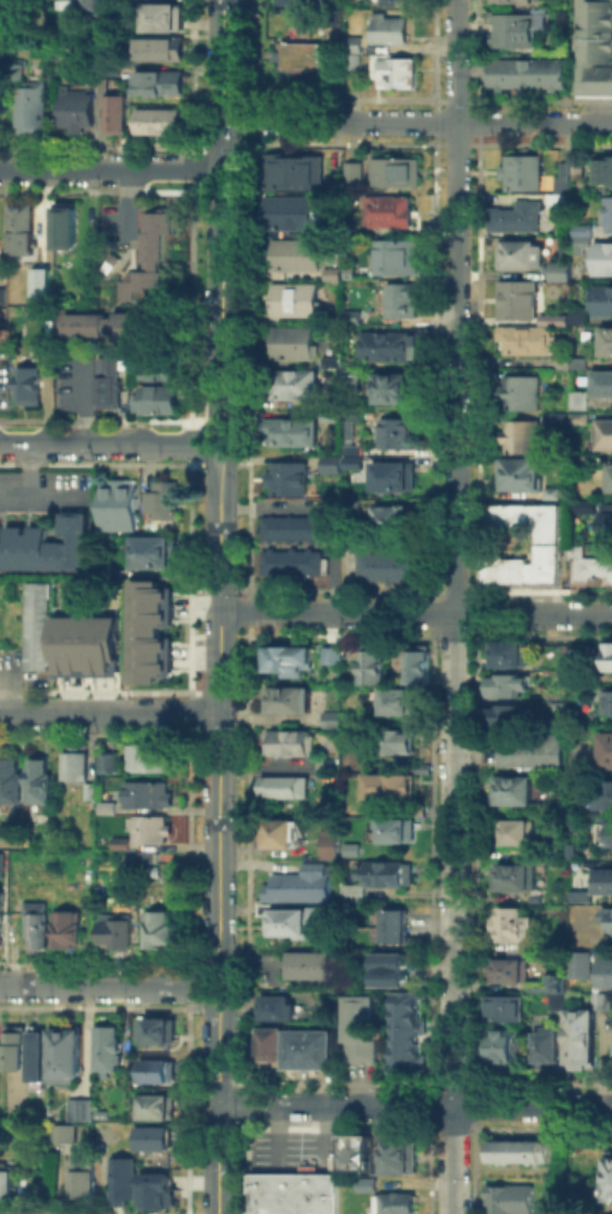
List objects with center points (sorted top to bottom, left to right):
building: (519, 2)
building: (296, 4)
building: (71, 5)
building: (400, 6)
building: (94, 8)
building: (340, 19)
building: (166, 23)
building: (518, 25)
building: (391, 35)
building: (595, 49)
building: (162, 54)
building: (355, 58)
building: (308, 61)
building: (530, 75)
building: (398, 76)
building: (162, 90)
building: (79, 113)
building: (2, 115)
building: (32, 115)
building: (118, 117)
road: (416, 120)
building: (161, 127)
building: (576, 166)
road: (109, 168)
building: (604, 168)
building: (293, 169)
building: (352, 169)
building: (394, 171)
building: (519, 171)
building: (562, 177)
building: (554, 196)
building: (387, 209)
building: (287, 210)
building: (608, 213)
road: (221, 214)
building: (512, 215)
building: (65, 224)
building: (22, 227)
building: (581, 228)
parking lot: (114, 231)
building: (580, 242)
building: (563, 246)
building: (295, 252)
building: (518, 252)
building: (396, 254)
building: (602, 256)
building: (151, 266)
building: (558, 269)
building: (349, 270)
building: (332, 273)
building: (41, 280)
building: (293, 298)
building: (398, 298)
building: (516, 298)
building: (601, 298)
building: (350, 315)
building: (577, 315)
building: (552, 317)
building: (107, 326)
building: (525, 337)
building: (606, 339)
building: (293, 340)
building: (386, 344)
building: (329, 359)
building: (560, 361)
building: (577, 361)
parking lot: (2, 365)
building: (153, 365)
building: (350, 373)
parking lot: (64, 379)
building: (106, 381)
building: (601, 381)
building: (293, 382)
building: (28, 383)
building: (392, 386)
building: (519, 391)
building: (153, 397)
road: (83, 398)
building: (577, 398)
building: (327, 415)
building: (350, 415)
building: (552, 416)
building: (577, 416)
building: (291, 430)
building: (347, 432)
building: (396, 432)
building: (601, 432)
building: (519, 434)
road: (103, 441)
road: (233, 442)
building: (350, 448)
building: (577, 459)
building: (351, 460)
building: (329, 462)
road: (28, 468)
building: (517, 472)
building: (391, 474)
building: (289, 477)
building: (611, 477)
building: (551, 492)
parking lot: (43, 493)
road: (41, 495)
building: (160, 501)
building: (349, 504)
parking lot: (296, 505)
building: (119, 506)
building: (584, 506)
road: (329, 508)
building: (391, 518)
building: (605, 518)
building: (0, 525)
building: (291, 526)
building: (547, 542)
building: (47, 544)
building: (153, 552)
building: (292, 560)
building: (588, 565)
building: (388, 566)
road: (456, 607)
road: (415, 614)
building: (36, 625)
building: (151, 631)
building: (87, 645)
building: (329, 653)
building: (511, 656)
building: (610, 659)
building: (287, 660)
building: (375, 666)
building: (421, 666)
building: (511, 689)
building: (290, 701)
building: (402, 703)
building: (610, 704)
road: (109, 712)
road: (220, 712)
building: (509, 716)
building: (331, 718)
building: (400, 743)
building: (292, 745)
building: (533, 750)
building: (607, 752)
building: (147, 756)
building: (108, 763)
building: (75, 764)
building: (10, 780)
building: (38, 780)
building: (393, 788)
building: (89, 790)
building: (287, 790)
building: (515, 792)
building: (145, 793)
building: (607, 796)
building: (106, 805)
building: (148, 831)
building: (396, 832)
building: (518, 834)
building: (283, 837)
building: (610, 837)
building: (120, 841)
building: (333, 847)
building: (1, 859)
building: (153, 859)
building: (155, 874)
building: (392, 876)
building: (518, 880)
building: (141, 882)
building: (605, 882)
building: (303, 887)
building: (577, 894)
building: (357, 895)
building: (1, 915)
building: (34, 920)
building: (607, 923)
building: (64, 924)
building: (155, 926)
building: (296, 926)
building: (515, 927)
building: (397, 929)
building: (114, 930)
building: (582, 965)
building: (314, 970)
building: (393, 974)
building: (512, 974)
building: (606, 975)
road: (102, 984)
building: (551, 984)
road: (231, 987)
building: (562, 1002)
building: (505, 1010)
building: (281, 1012)
building: (363, 1031)
building: (160, 1035)
building: (583, 1039)
building: (409, 1040)
building: (504, 1048)
building: (19, 1052)
road: (218, 1052)
building: (275, 1052)
building: (549, 1052)
building: (314, 1053)
building: (109, 1054)
building: (66, 1057)
building: (42, 1060)
building: (159, 1075)
building: (1, 1078)
road: (415, 1106)
building: (160, 1111)
building: (83, 1112)
building: (65, 1132)
building: (156, 1142)
building: (357, 1154)
building: (521, 1155)
road: (218, 1160)
building: (402, 1160)
building: (84, 1184)
building: (125, 1184)
building: (607, 1184)
building: (368, 1186)
building: (8, 1189)
building: (156, 1190)
building: (296, 1196)
building: (513, 1202)
building: (399, 1206)

